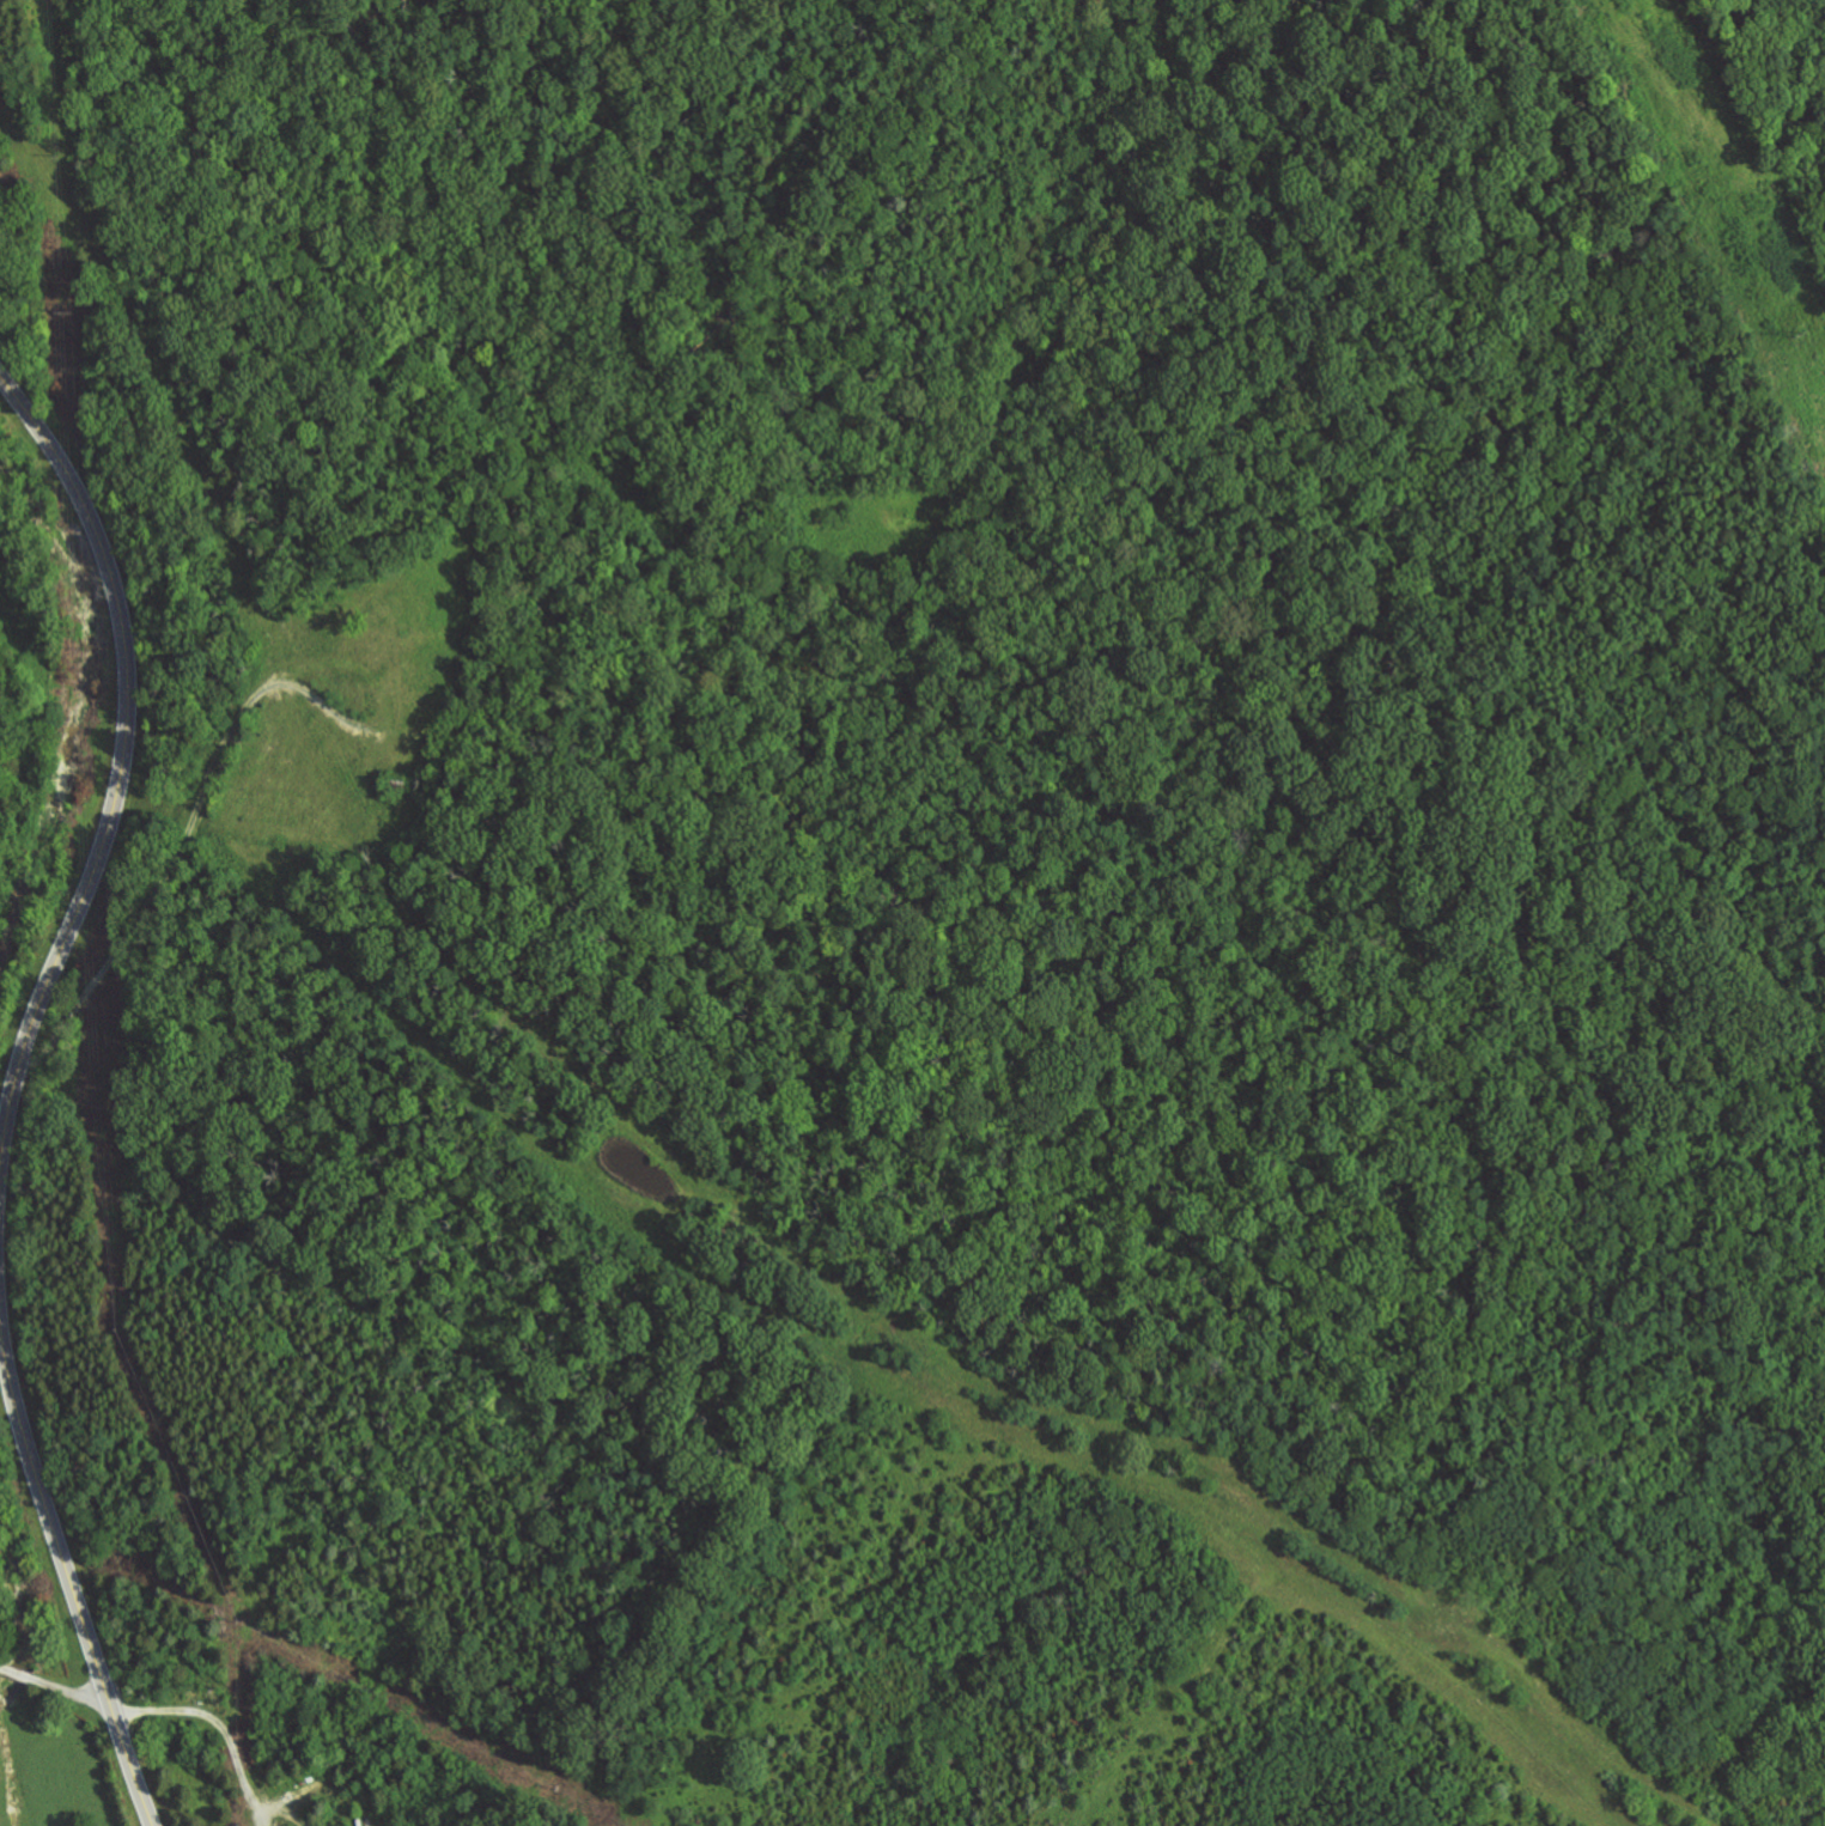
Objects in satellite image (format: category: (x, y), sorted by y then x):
power tower: (1799, 329)
road: (122, 759)
road: (68, 1578)
road: (1, 1666)
road: (17, 1670)
road: (71, 1691)
road: (218, 1725)

